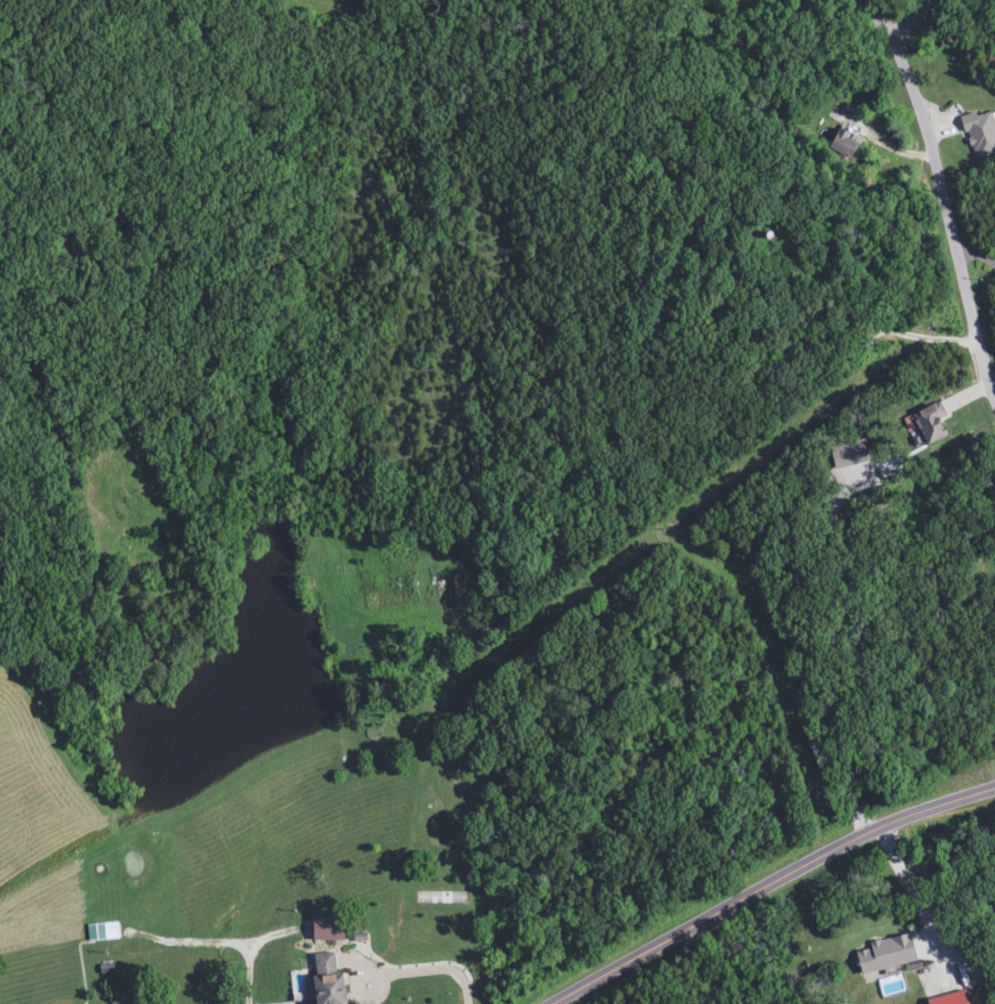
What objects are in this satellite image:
road: (887, 15)
road: (912, 16)
building: (979, 135)
building: (843, 143)
road: (949, 212)
road: (978, 255)
building: (929, 423)
building: (463, 594)
road: (832, 650)
road: (773, 884)
road: (937, 921)
building: (102, 933)
road: (216, 946)
building: (885, 956)
road: (427, 974)
building: (325, 980)

